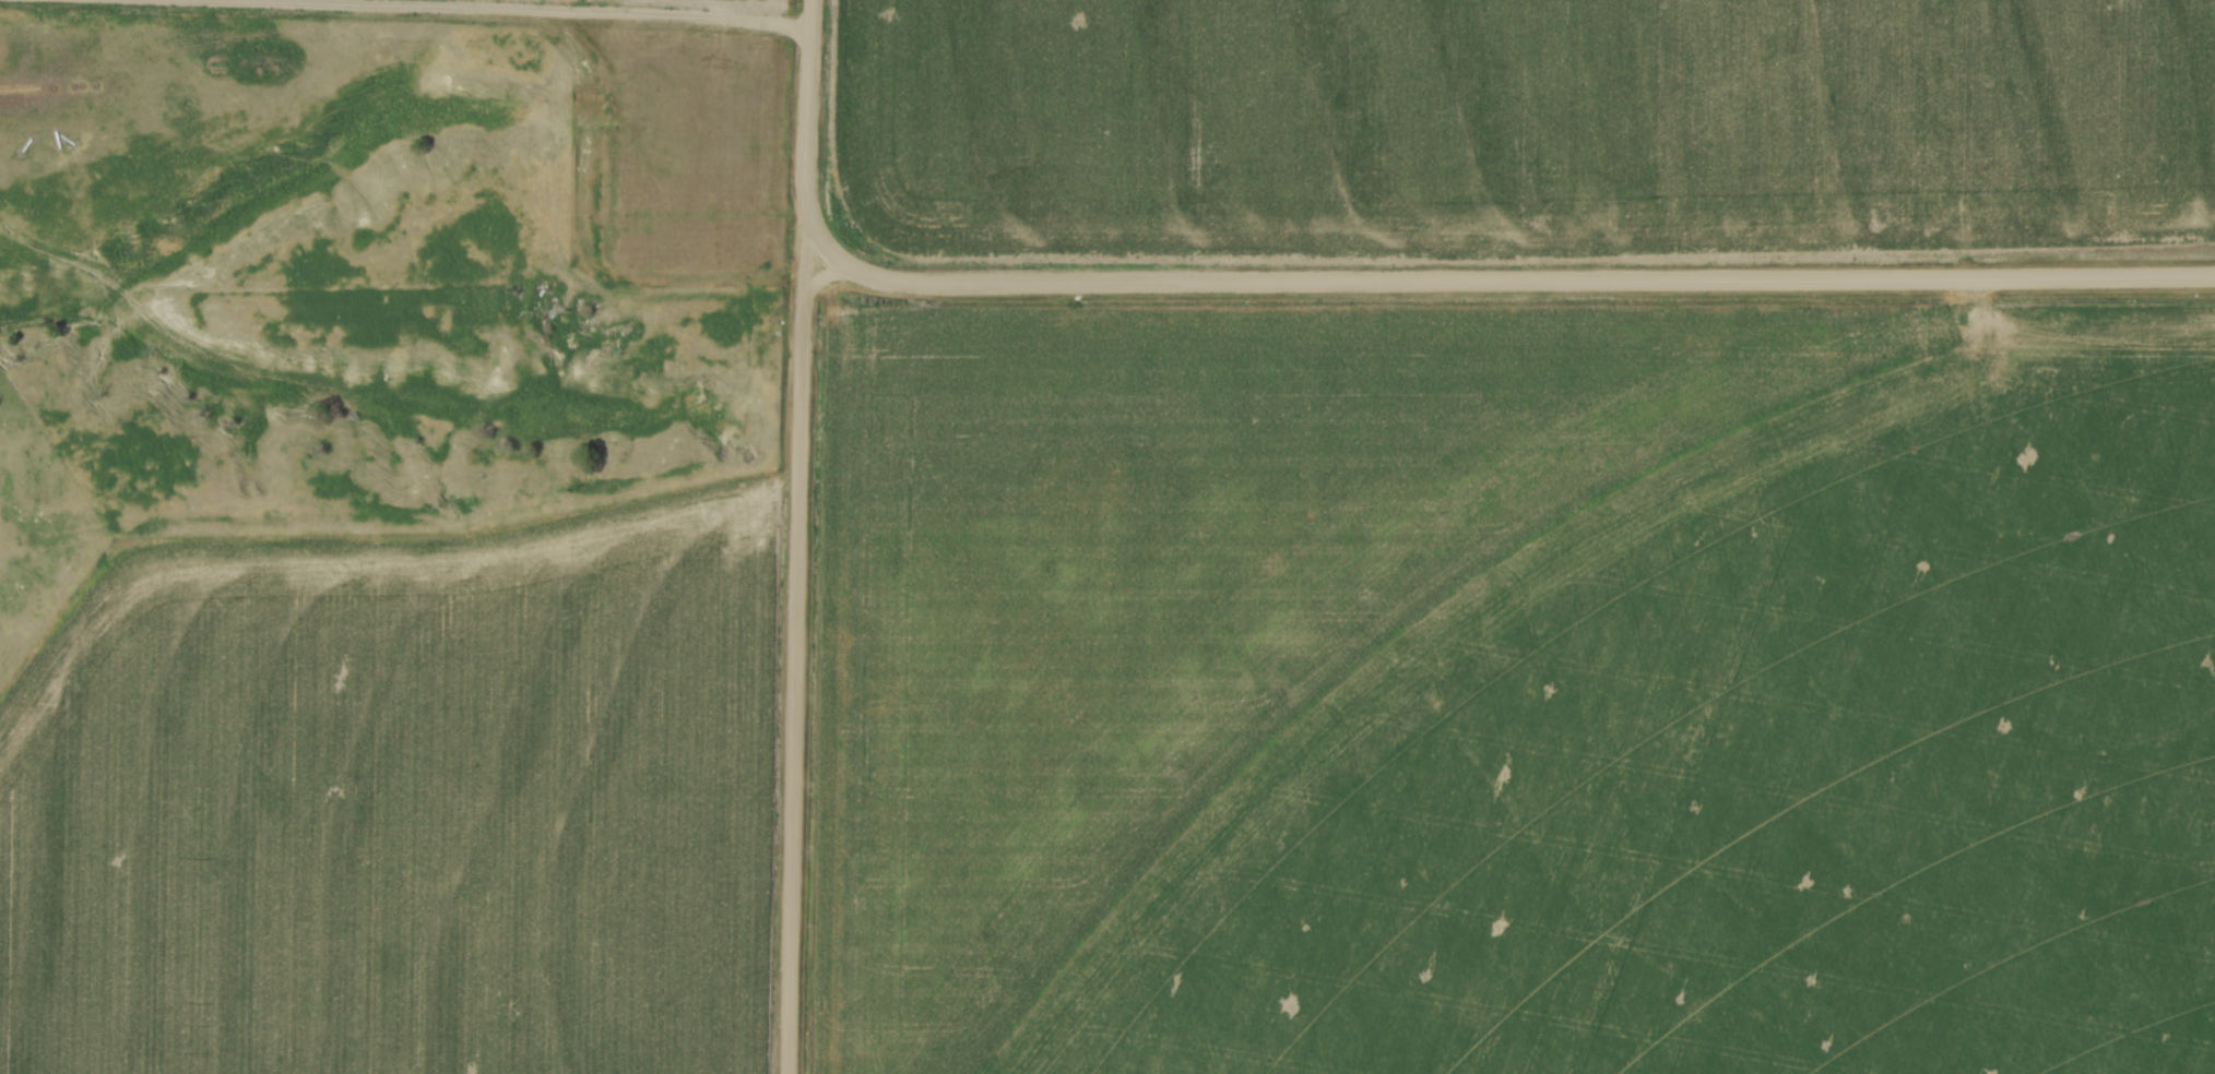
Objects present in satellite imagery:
crop: (1531, 115)
road: (810, 119)
road: (1503, 278)
road: (795, 656)
crop: (398, 802)

